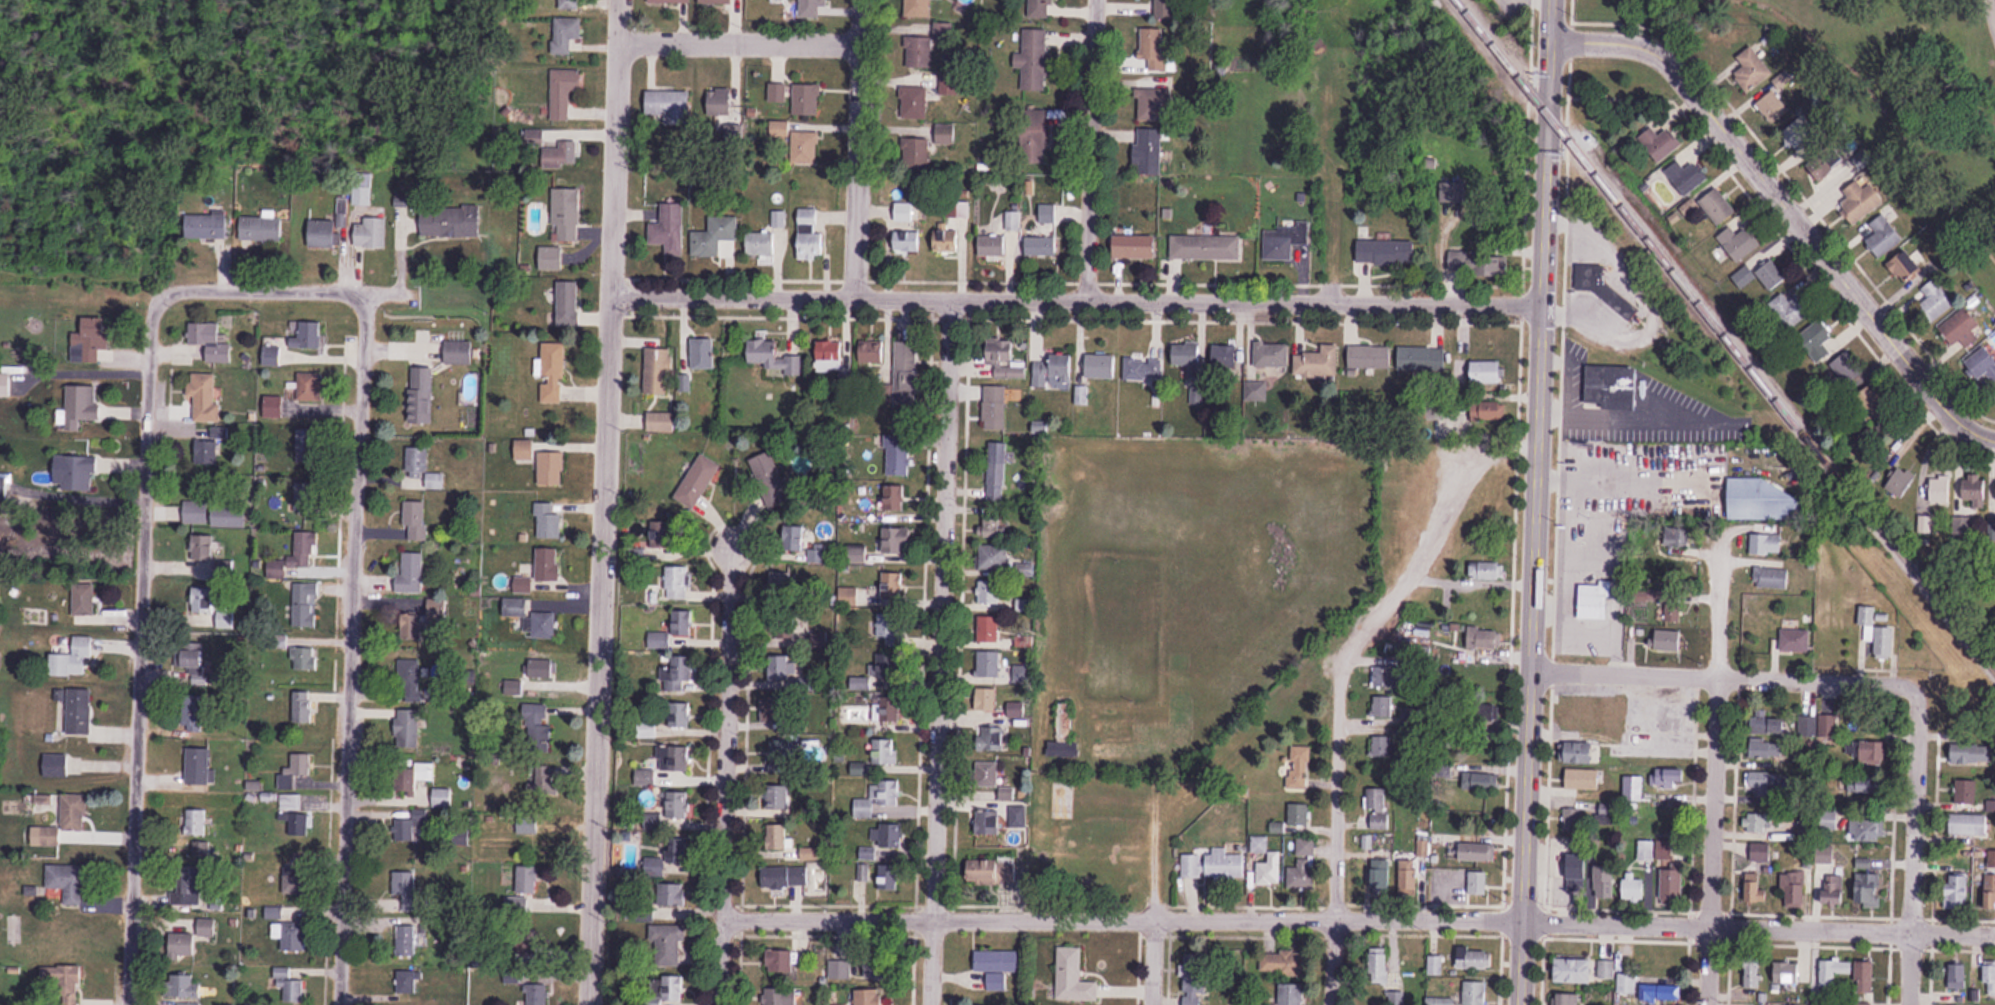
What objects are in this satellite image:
building: (671, 1)
building: (721, 2)
building: (569, 4)
park: (1597, 4)
building: (1161, 7)
building: (812, 8)
building: (916, 8)
building: (1041, 8)
road: (1991, 13)
road: (617, 20)
building: (565, 34)
road: (738, 40)
building: (1153, 47)
building: (930, 49)
building: (1033, 59)
park: (1920, 67)
building: (1749, 70)
building: (563, 91)
building: (777, 92)
building: (806, 99)
building: (914, 102)
building: (720, 103)
building: (1154, 103)
building: (670, 106)
building: (1774, 106)
building: (779, 128)
building: (1037, 130)
building: (1802, 134)
building: (1659, 142)
building: (805, 147)
road: (857, 147)
road: (1089, 148)
building: (1148, 151)
building: (915, 153)
building: (560, 156)
building: (1825, 163)
building: (1686, 176)
building: (1860, 199)
building: (1718, 206)
road: (1786, 208)
building: (903, 212)
building: (1046, 212)
building: (565, 214)
building: (449, 220)
building: (206, 225)
building: (950, 226)
building: (261, 228)
building: (669, 228)
building: (322, 233)
building: (370, 233)
building: (809, 235)
building: (713, 236)
building: (1883, 236)
building: (1740, 241)
building: (906, 242)
building: (760, 243)
building: (992, 245)
building: (1040, 245)
building: (1134, 246)
building: (1202, 247)
building: (1277, 247)
building: (1386, 251)
building: (550, 257)
building: (1905, 264)
building: (1498, 265)
building: (1761, 275)
building: (1589, 277)
road: (262, 289)
road: (406, 291)
road: (1076, 297)
building: (1936, 299)
building: (568, 303)
building: (1792, 307)
building: (1961, 329)
building: (306, 335)
railway: (1725, 337)
building: (1816, 339)
building: (210, 341)
building: (89, 342)
building: (873, 351)
building: (459, 352)
building: (702, 353)
building: (1184, 354)
building: (1225, 355)
building: (1271, 355)
building: (270, 356)
building: (829, 356)
building: (772, 357)
building: (1369, 357)
building: (1421, 359)
building: (1005, 360)
building: (1318, 363)
building: (1982, 364)
building: (905, 366)
building: (1099, 366)
building: (1050, 369)
building: (1141, 369)
building: (1848, 370)
building: (657, 371)
building: (1486, 371)
building: (552, 373)
building: (1606, 384)
building: (309, 387)
building: (1258, 390)
building: (421, 395)
building: (205, 397)
building: (1874, 401)
building: (82, 405)
building: (994, 408)
building: (1488, 411)
building: (661, 421)
building: (1870, 435)
building: (306, 446)
building: (209, 447)
building: (525, 451)
building: (897, 456)
building: (422, 468)
building: (551, 468)
building: (1001, 471)
building: (78, 473)
building: (770, 479)
building: (698, 481)
building: (1900, 482)
building: (1939, 489)
building: (1970, 489)
building: (304, 496)
building: (893, 497)
building: (1765, 501)
road: (1534, 502)
building: (195, 513)
building: (228, 516)
building: (415, 521)
building: (547, 522)
road: (602, 522)
building: (993, 526)
building: (1962, 526)
building: (790, 532)
building: (663, 536)
building: (896, 541)
building: (1765, 543)
building: (859, 553)
building: (202, 555)
building: (295, 556)
building: (992, 557)
building: (548, 565)
building: (1486, 571)
building: (410, 574)
building: (1771, 578)
building: (676, 580)
building: (780, 584)
building: (892, 585)
building: (990, 592)
building: (848, 596)
building: (83, 600)
building: (1594, 601)
building: (209, 605)
building: (304, 605)
building: (1670, 612)
building: (531, 618)
building: (425, 621)
building: (682, 622)
building: (780, 625)
building: (890, 629)
building: (988, 629)
building: (1875, 632)
building: (1668, 639)
building: (1794, 640)
road: (137, 647)
road: (350, 648)
road: (939, 650)
building: (192, 655)
building: (73, 658)
building: (303, 659)
building: (988, 664)
building: (781, 667)
building: (541, 668)
building: (679, 673)
building: (1022, 674)
road: (1718, 675)
building: (1386, 677)
building: (409, 678)
building: (887, 686)
building: (985, 698)
building: (1381, 706)
building: (302, 707)
building: (778, 708)
building: (76, 710)
building: (1017, 710)
building: (193, 711)
building: (680, 715)
building: (1770, 723)
building: (1062, 725)
building: (408, 729)
building: (539, 729)
building: (1580, 729)
building: (997, 735)
building: (1381, 747)
building: (1766, 748)
building: (784, 749)
building: (884, 751)
building: (1871, 752)
building: (1970, 753)
building: (673, 759)
road: (1712, 764)
building: (66, 765)
building: (200, 766)
road: (728, 767)
building: (1299, 768)
building: (295, 771)
building: (1670, 777)
building: (413, 778)
building: (1582, 779)
building: (1764, 780)
building: (1478, 781)
road: (1337, 783)
building: (541, 784)
building: (1862, 787)
building: (1965, 791)
building: (889, 792)
building: (1007, 793)
building: (442, 798)
building: (778, 798)
building: (678, 805)
building: (864, 808)
building: (1378, 809)
building: (1298, 815)
building: (1017, 817)
building: (1571, 820)
building: (63, 821)
building: (653, 821)
building: (1828, 821)
building: (196, 822)
building: (1758, 822)
building: (298, 824)
building: (528, 824)
building: (988, 824)
building: (410, 829)
building: (1865, 830)
building: (1804, 832)
building: (886, 836)
building: (777, 837)
building: (1668, 843)
building: (1439, 844)
road: (1912, 844)
building: (199, 851)
building: (1477, 852)
building: (1761, 852)
building: (1645, 853)
building: (671, 861)
building: (1265, 863)
building: (1225, 865)
building: (1302, 865)
building: (1191, 866)
building: (985, 870)
building: (1578, 874)
building: (1380, 875)
building: (1407, 875)
building: (784, 876)
building: (890, 878)
building: (295, 879)
building: (527, 880)
building: (68, 882)
building: (1478, 883)
building: (1673, 886)
building: (1756, 887)
building: (196, 889)
building: (406, 889)
building: (1793, 890)
building: (1835, 890)
building: (1989, 890)
building: (1869, 891)
building: (1956, 891)
building: (673, 895)
building: (273, 912)
road: (1361, 918)
building: (206, 927)
building: (291, 936)
building: (406, 939)
building: (667, 944)
building: (182, 945)
road: (1150, 953)
building: (1474, 958)
building: (780, 961)
building: (1383, 962)
building: (1281, 963)
building: (996, 966)
building: (840, 967)
building: (878, 968)
building: (1607, 969)
building: (1573, 971)
building: (1833, 971)
building: (1785, 973)
building: (1753, 975)
building: (1957, 975)
building: (1073, 976)
building: (513, 977)
building: (1864, 977)
building: (1989, 978)
building: (1193, 979)
building: (406, 982)
building: (1626, 983)
building: (69, 985)
building: (288, 985)
building: (185, 986)
building: (673, 988)
building: (1475, 993)
building: (1660, 993)
building: (535, 994)
building: (1291, 994)
building: (782, 996)
building: (868, 996)
building: (1395, 998)
building: (1567, 999)
building: (1440, 1001)
building: (187, 1003)

